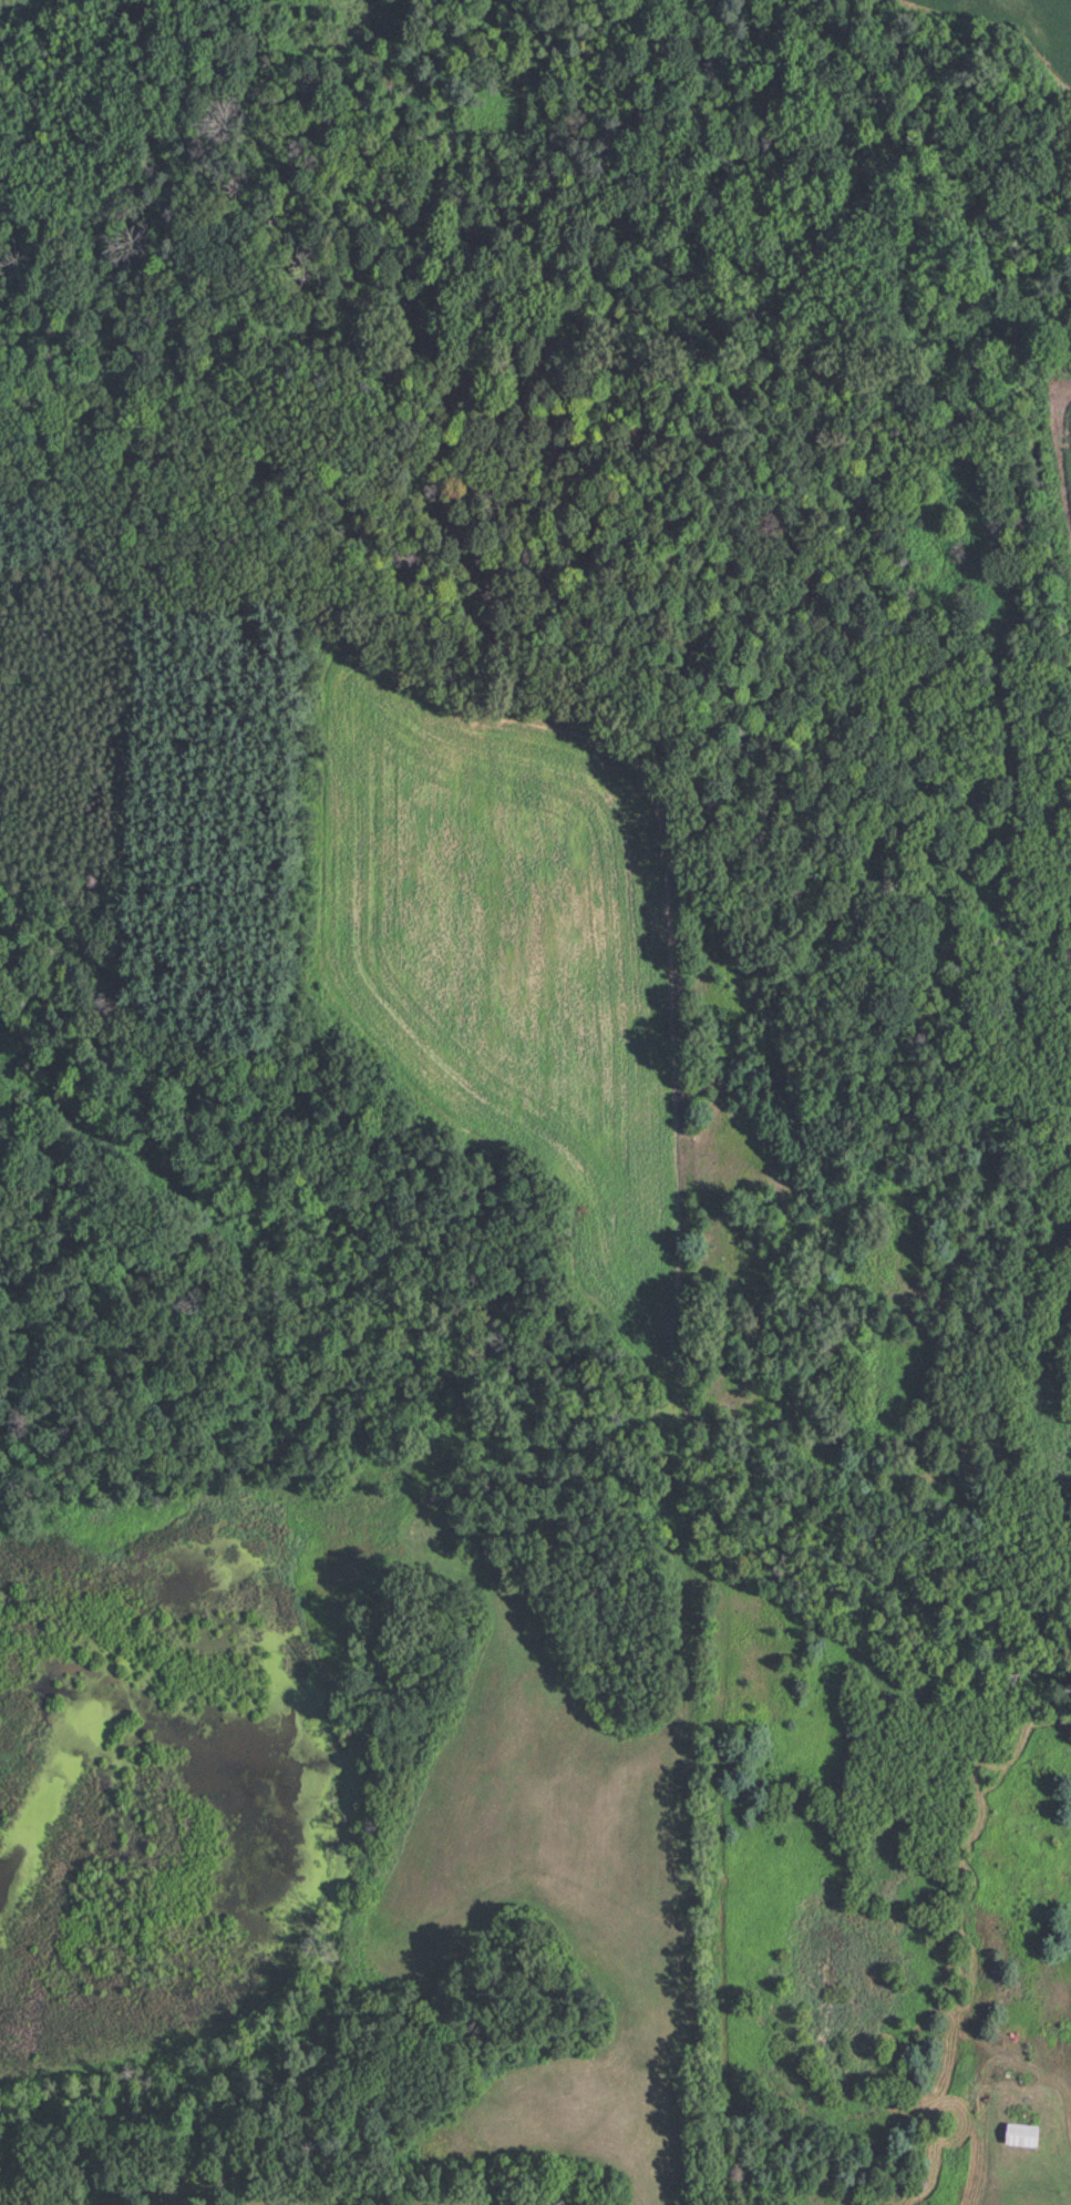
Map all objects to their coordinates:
building: (1021, 2136)
park: (184, 2186)
building: (513, 2204)
building: (564, 2204)

